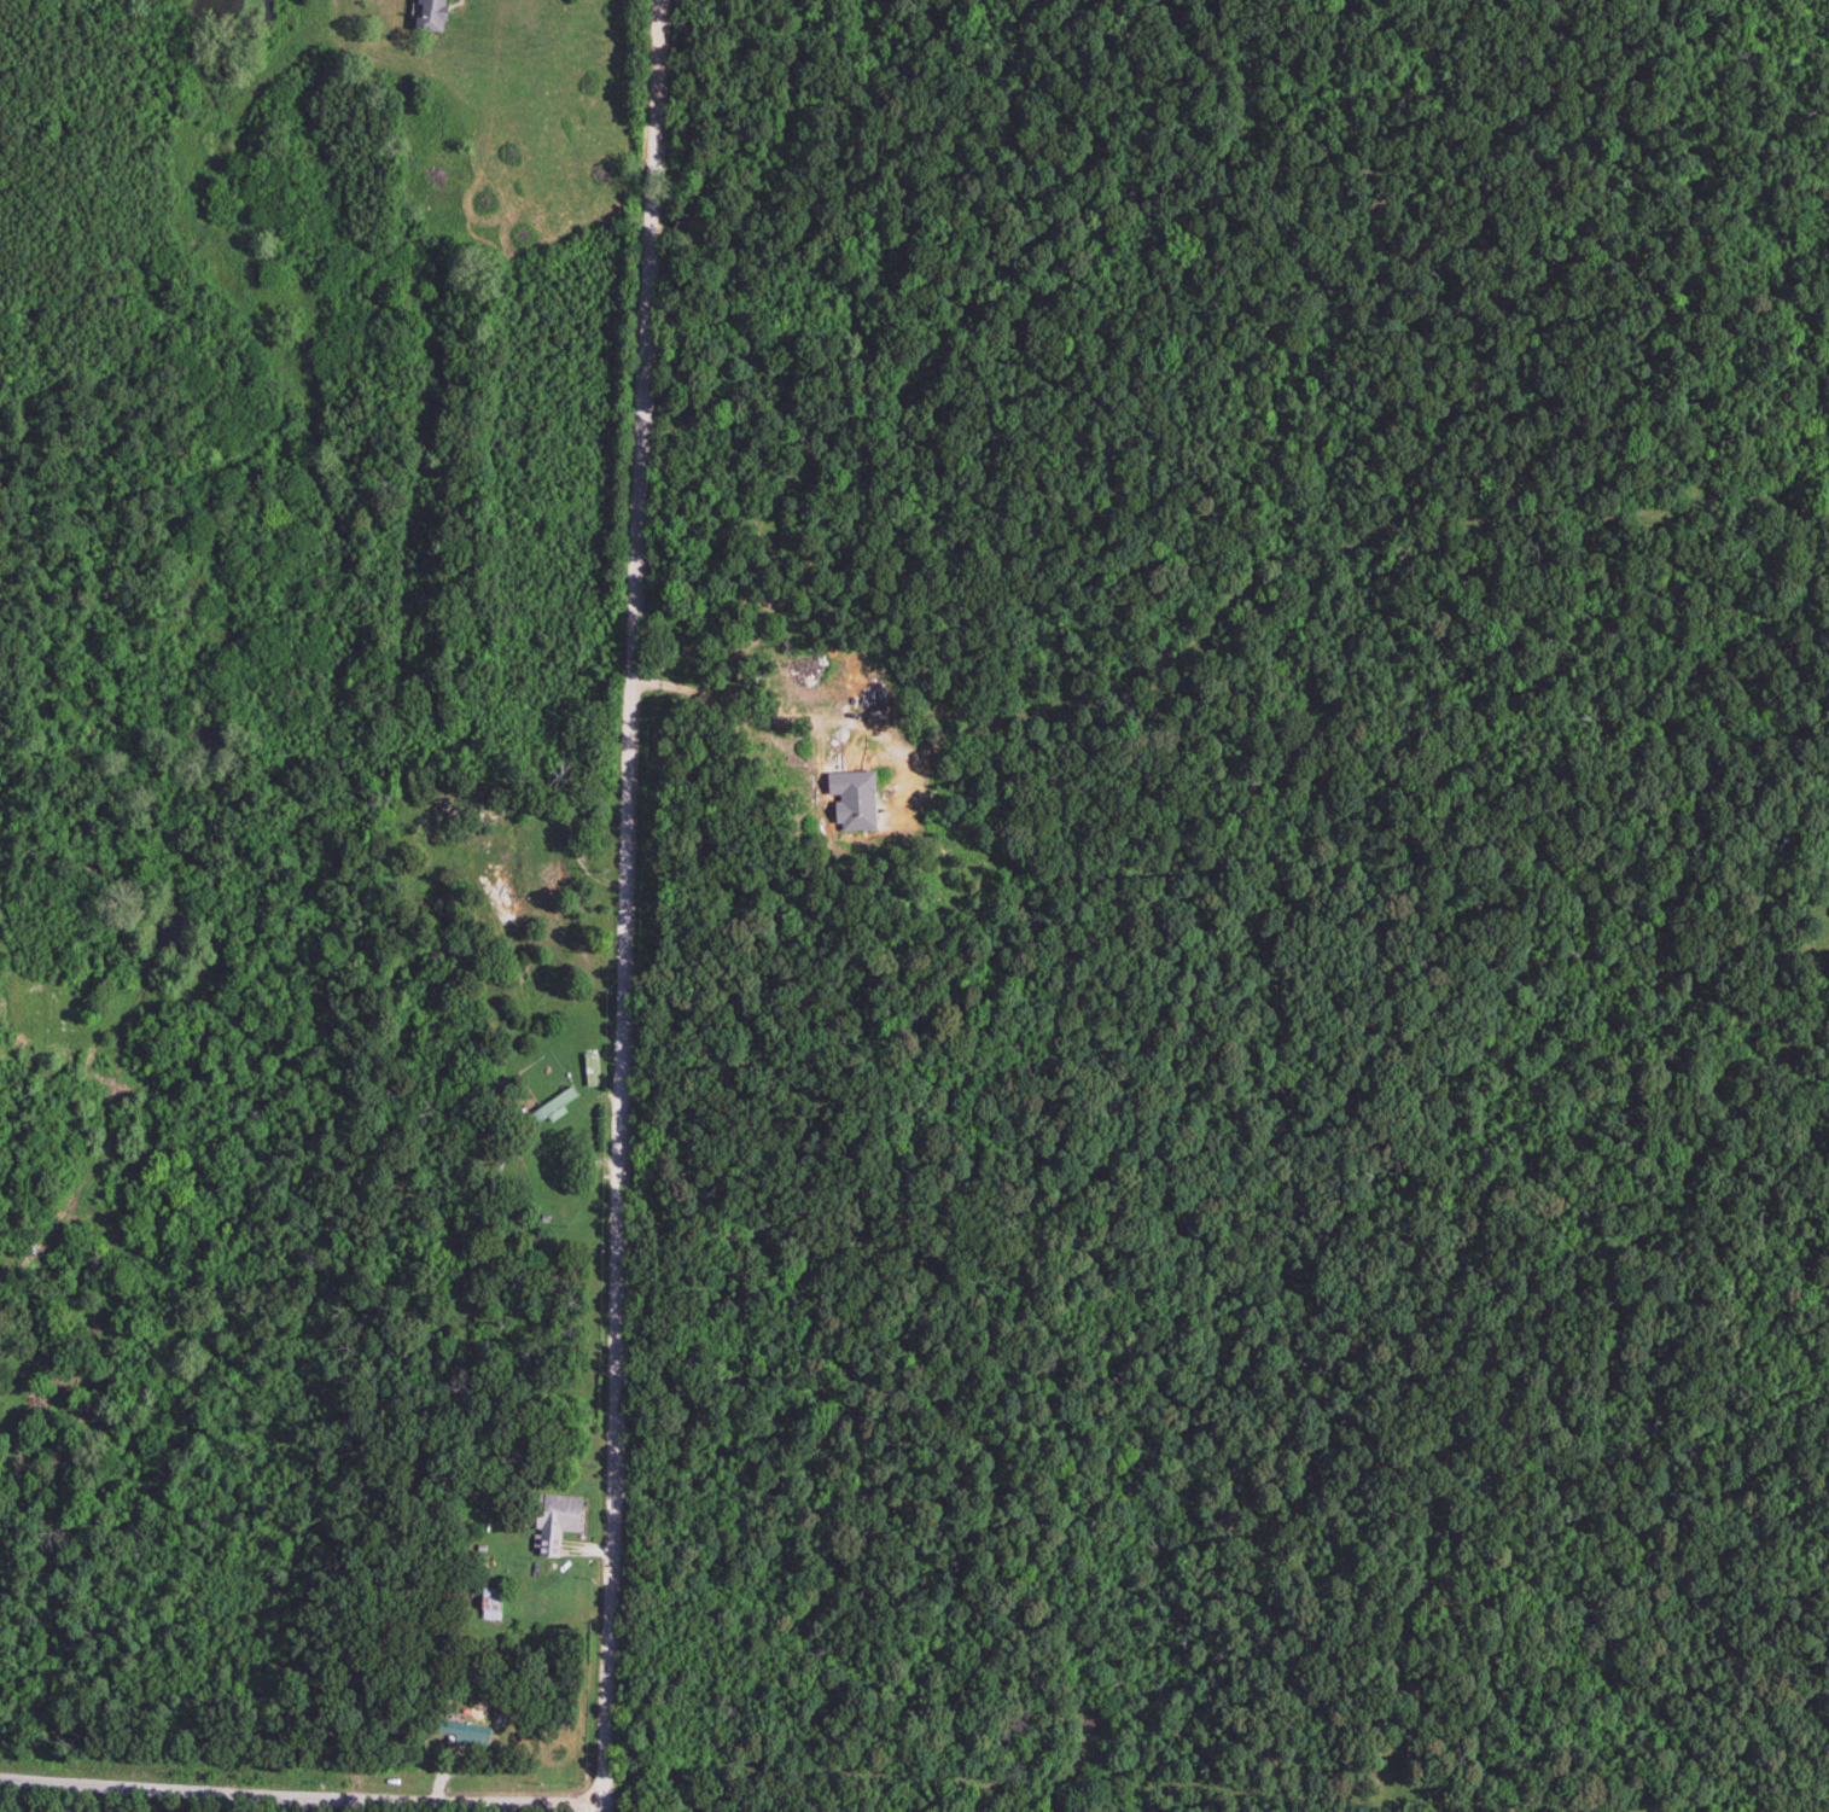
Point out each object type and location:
building: (424, 16)
building: (494, 899)
road: (621, 909)
building: (547, 1111)
building: (553, 1523)
road: (415, 1800)

